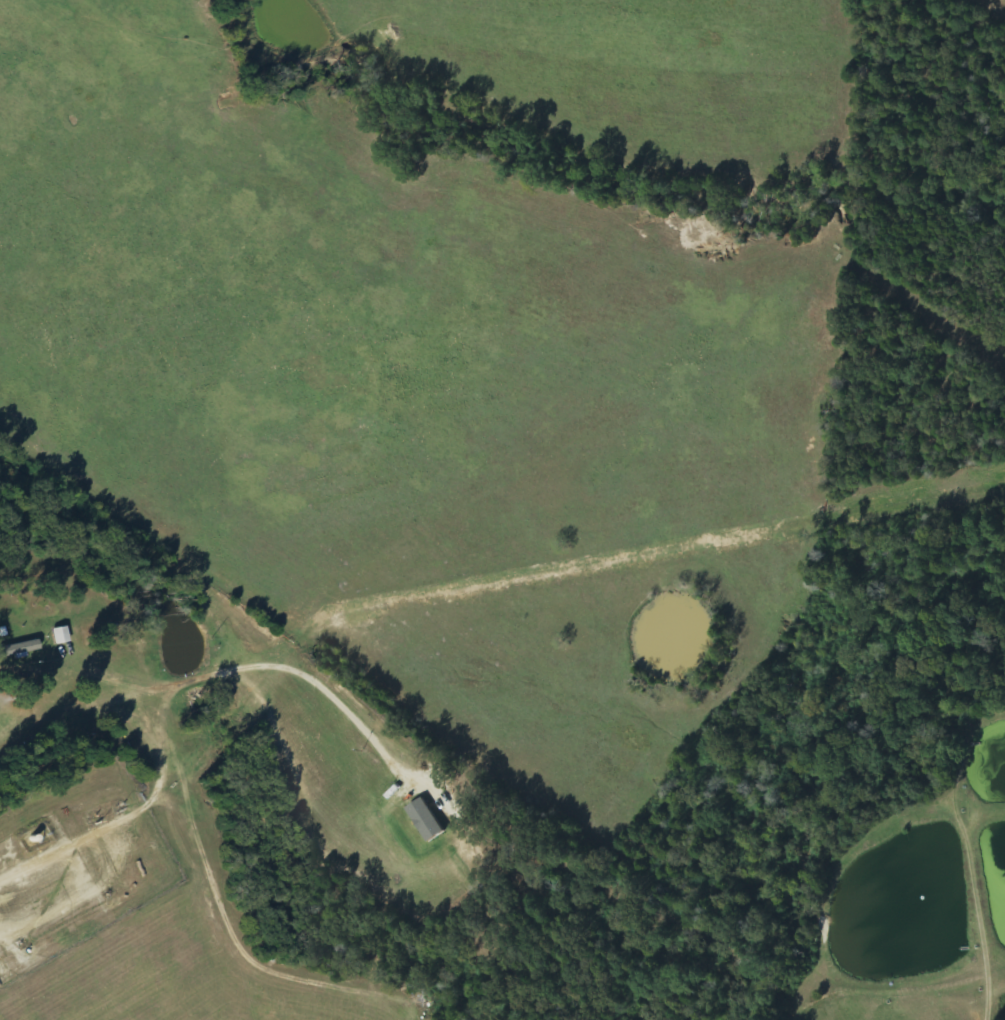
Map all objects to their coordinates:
building: (59, 635)
building: (19, 648)
road: (58, 853)

